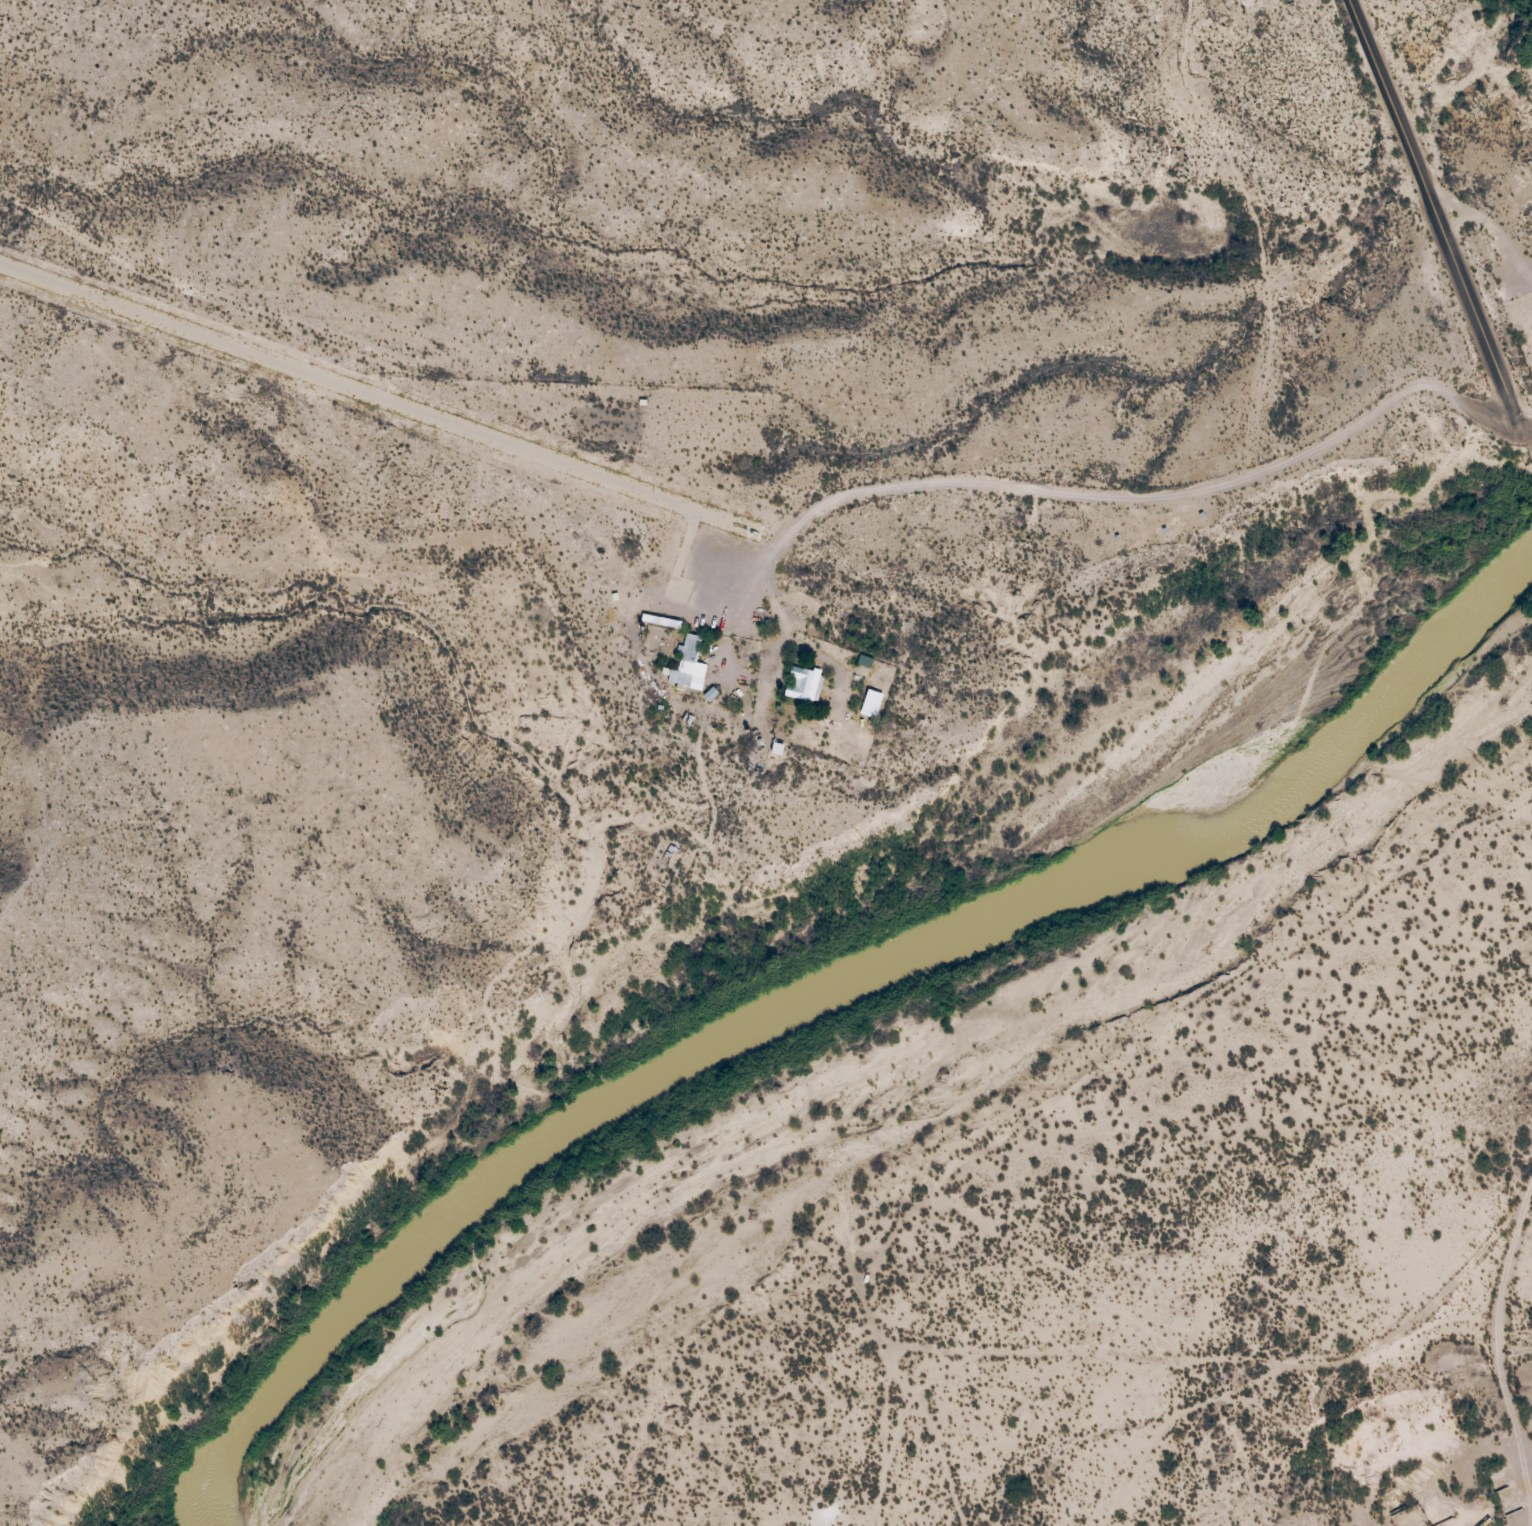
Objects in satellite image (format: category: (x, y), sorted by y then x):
road: (1442, 224)
road: (1220, 226)
road: (1489, 231)
airport runway: (382, 400)
road: (1529, 455)
road: (1179, 493)
airport apron: (731, 570)
building: (700, 656)
river: (830, 985)

